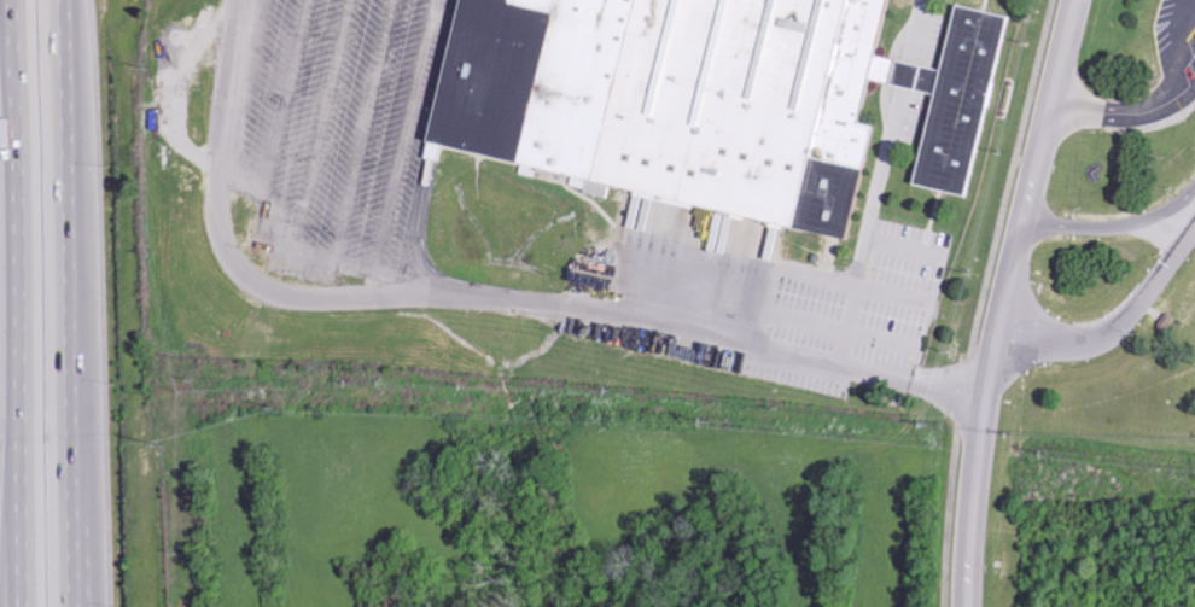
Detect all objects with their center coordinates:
road: (1187, 29)
road: (1177, 54)
building: (635, 95)
road: (1182, 100)
road: (1109, 112)
road: (1013, 177)
road: (1115, 227)
road: (472, 296)
road: (1005, 300)
road: (4, 303)
road: (82, 303)
road: (1118, 327)
road: (963, 391)
road: (92, 450)
road: (950, 516)
road: (4, 580)

